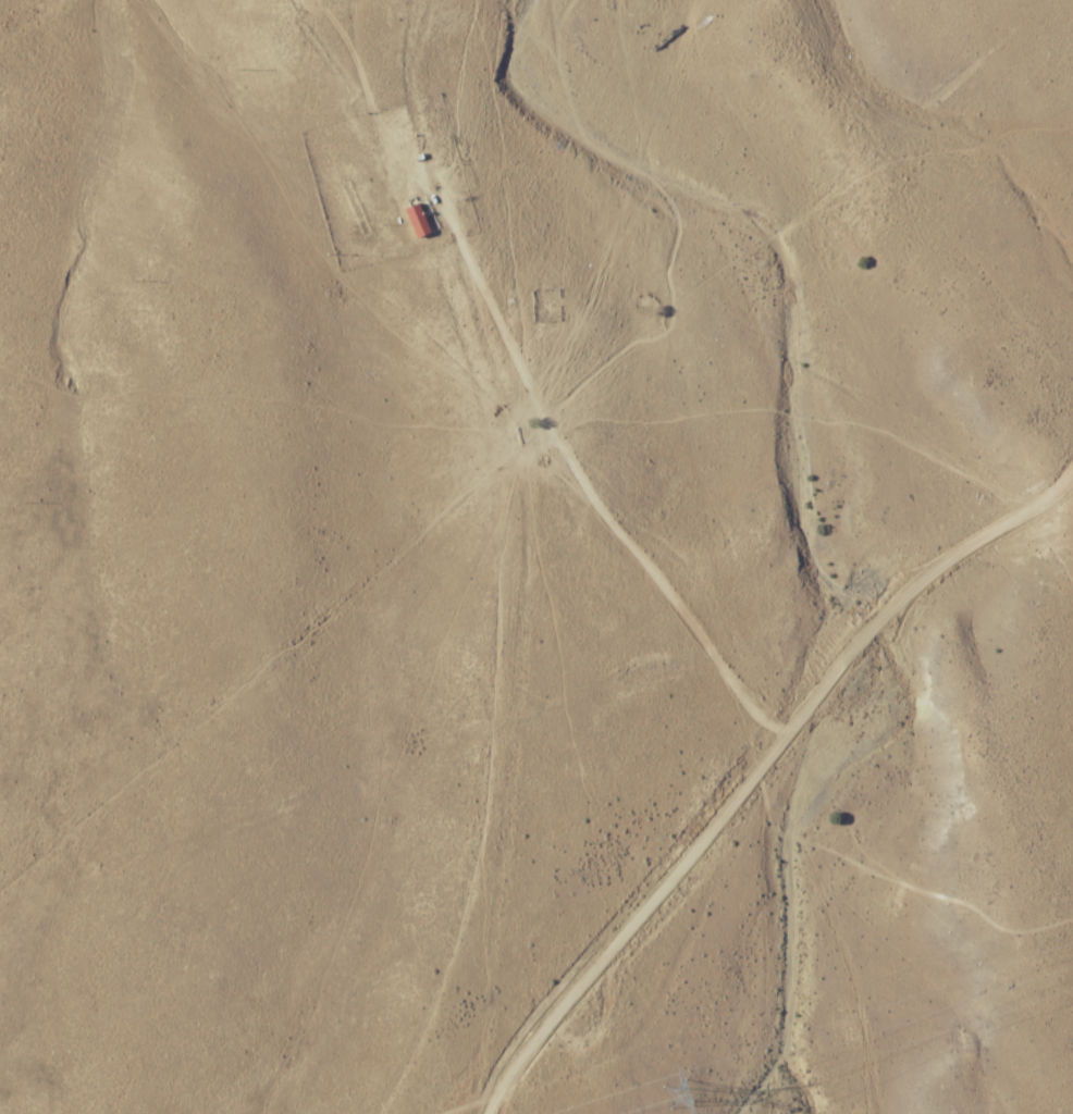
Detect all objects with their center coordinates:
building: (419, 219)
road: (1062, 484)
road: (1062, 500)
road: (486, 558)
road: (750, 784)
power tower: (696, 1090)

